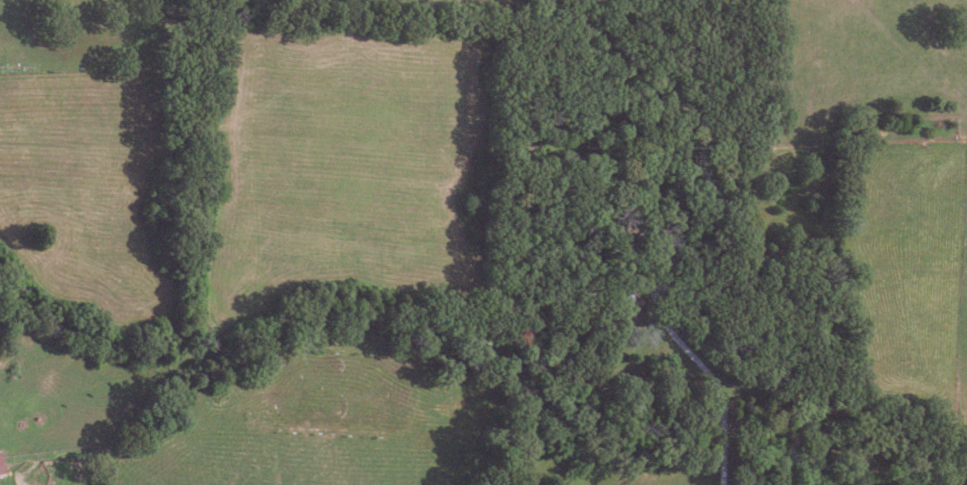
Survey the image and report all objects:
road: (718, 388)
building: (1, 466)

